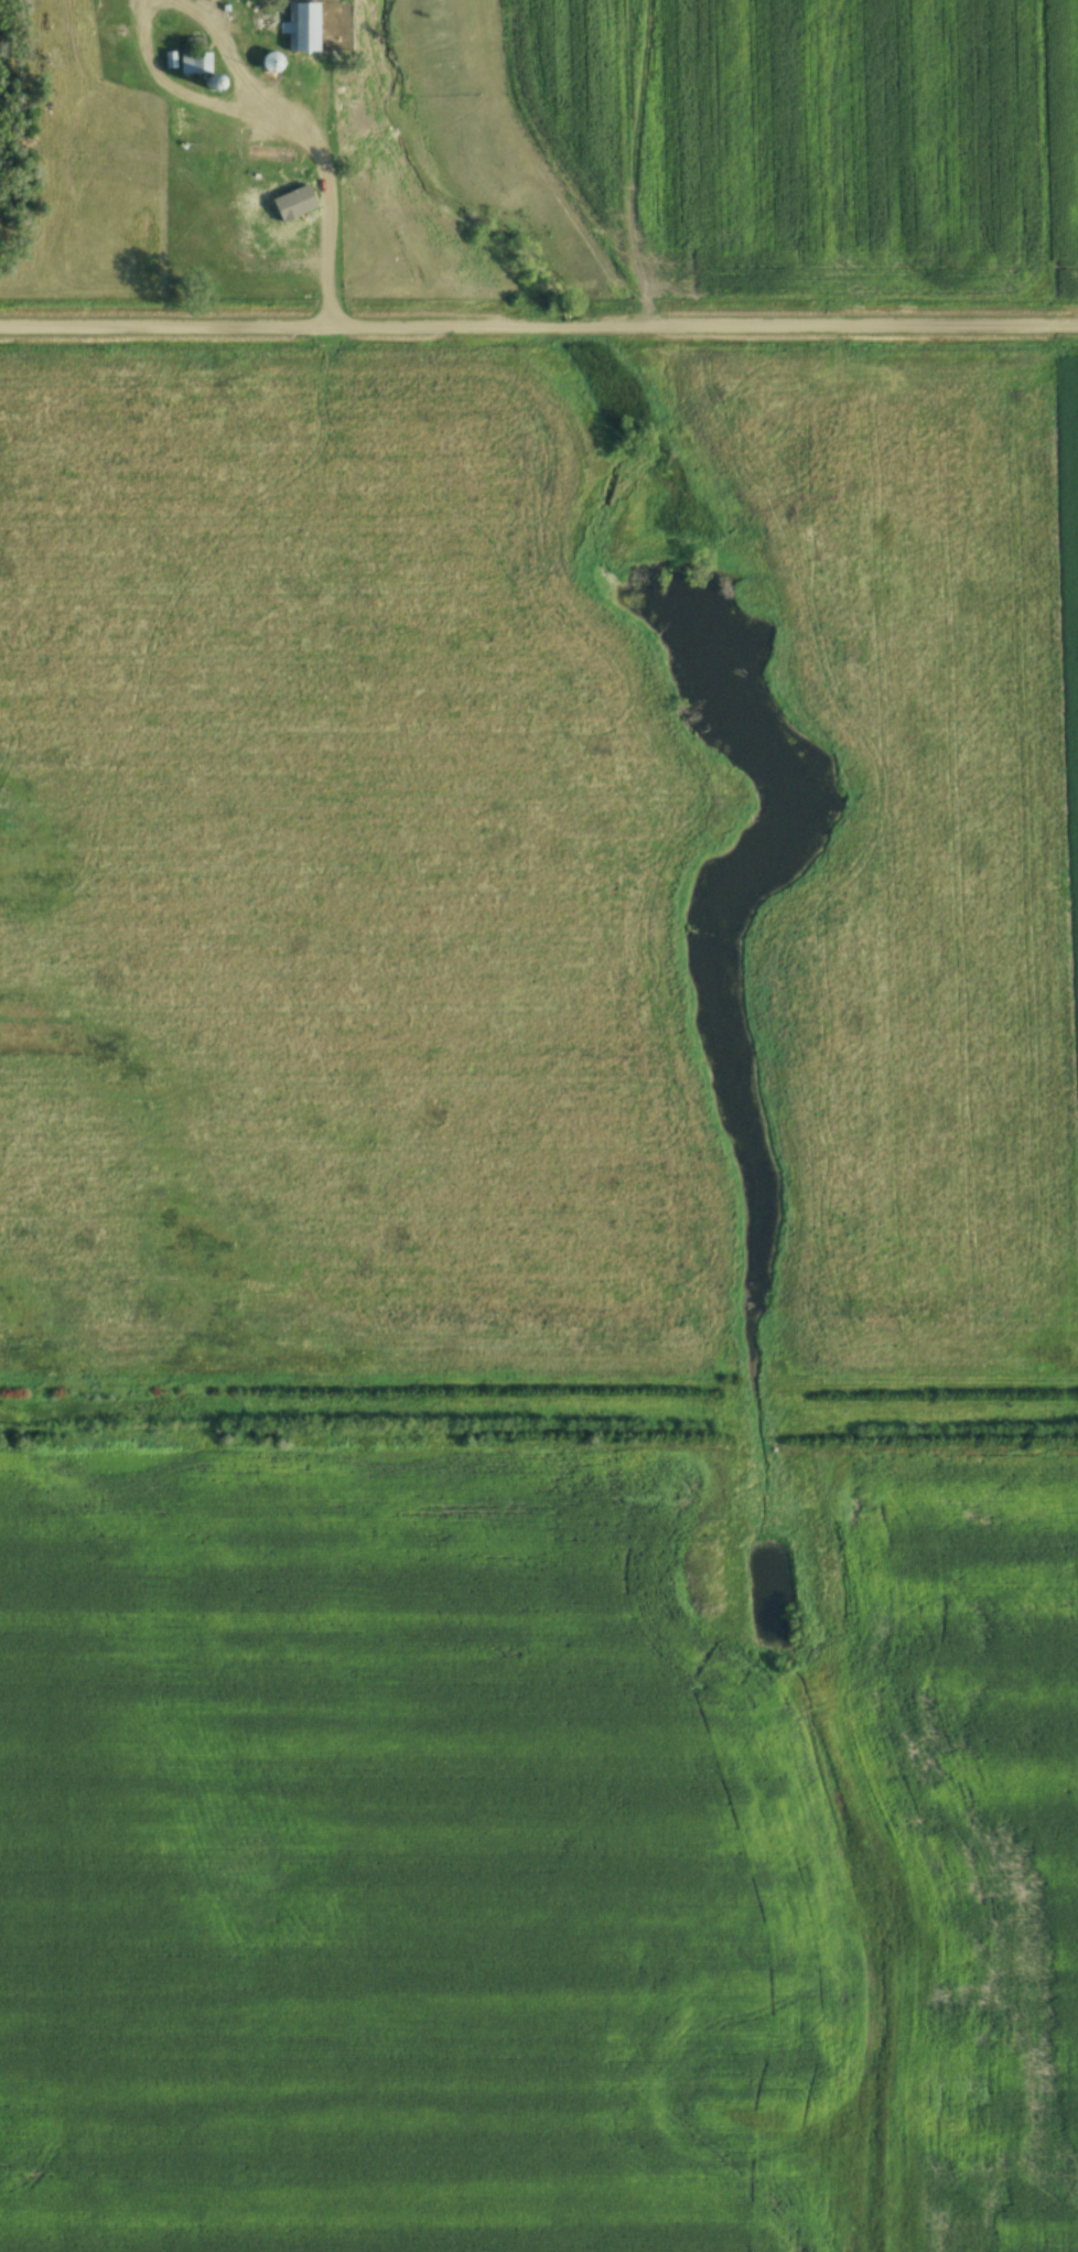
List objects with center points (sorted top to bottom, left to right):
building: (267, 20)
building: (302, 29)
building: (194, 63)
building: (269, 63)
building: (291, 195)
road: (325, 249)
road: (538, 322)

